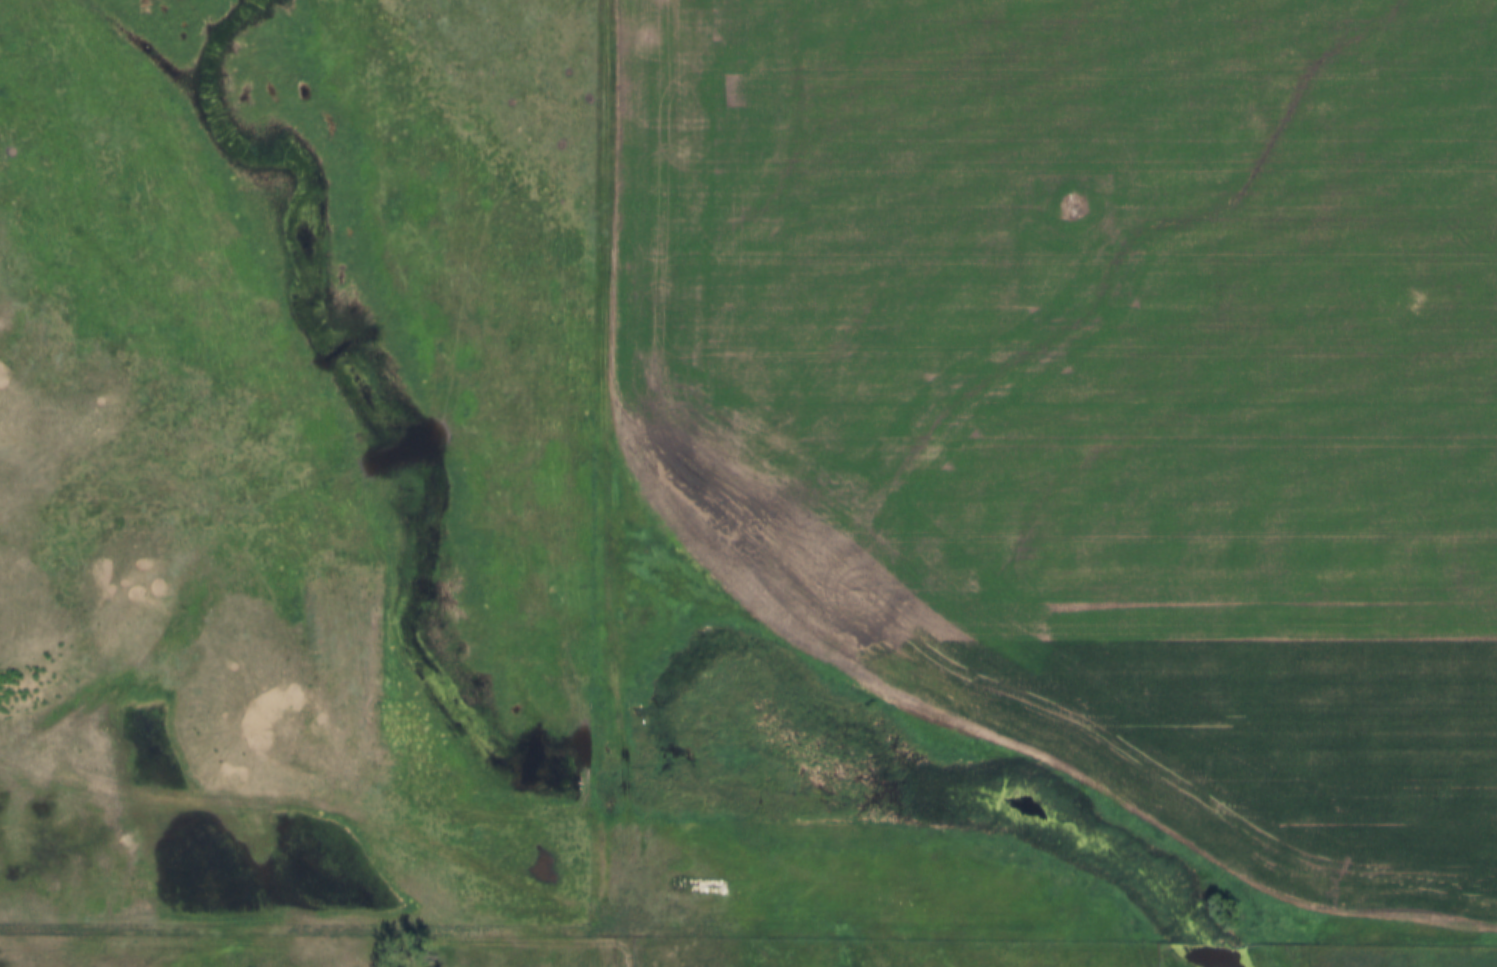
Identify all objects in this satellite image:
road: (613, 485)

